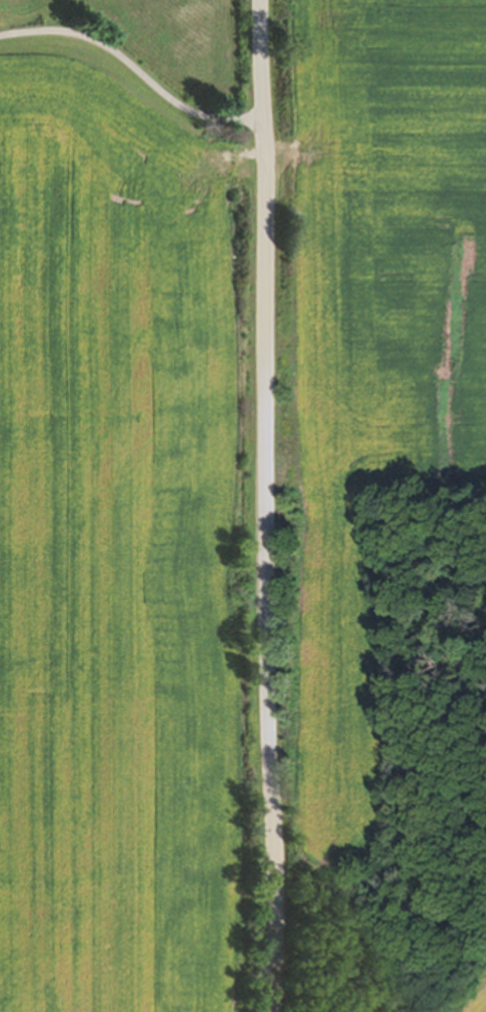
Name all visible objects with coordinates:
road: (131, 66)
road: (262, 505)

